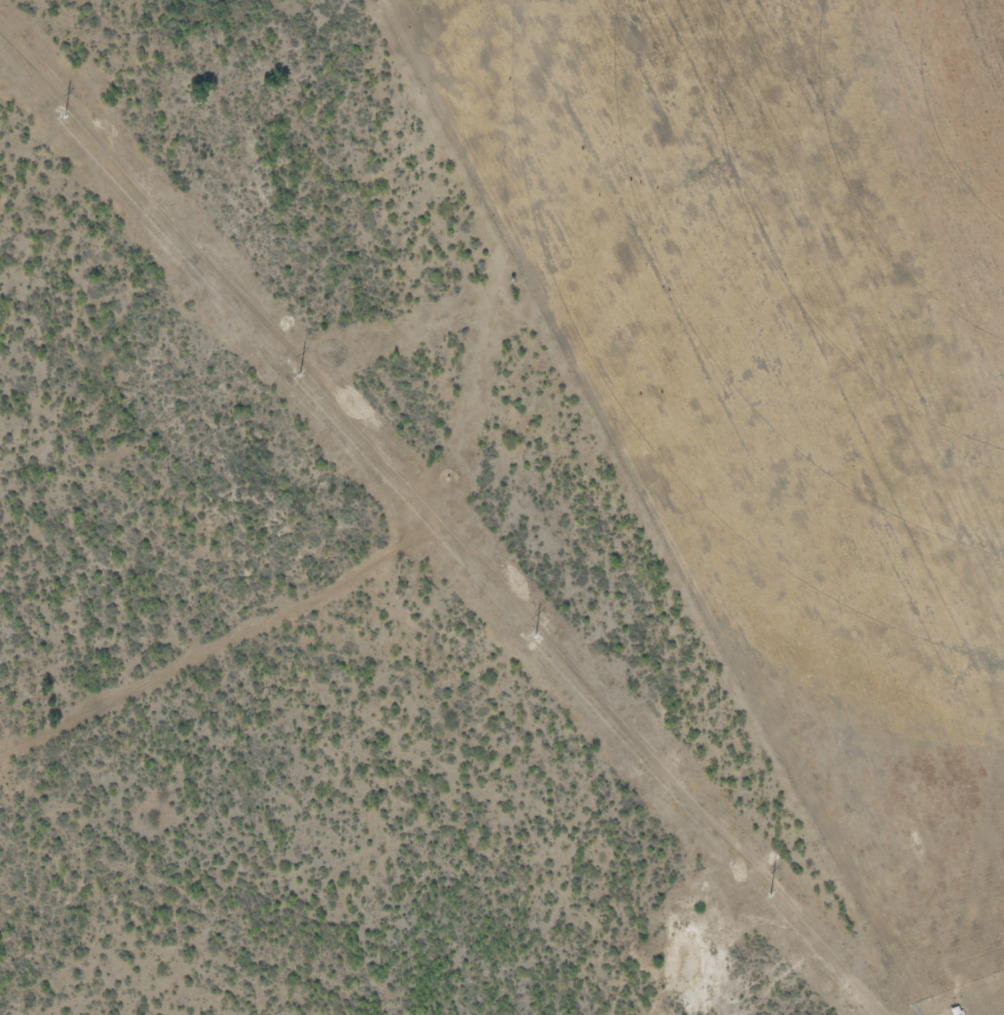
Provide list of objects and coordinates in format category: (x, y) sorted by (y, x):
power tower: (58, 108)
power tower: (293, 368)
power tower: (527, 628)
power tower: (760, 890)

